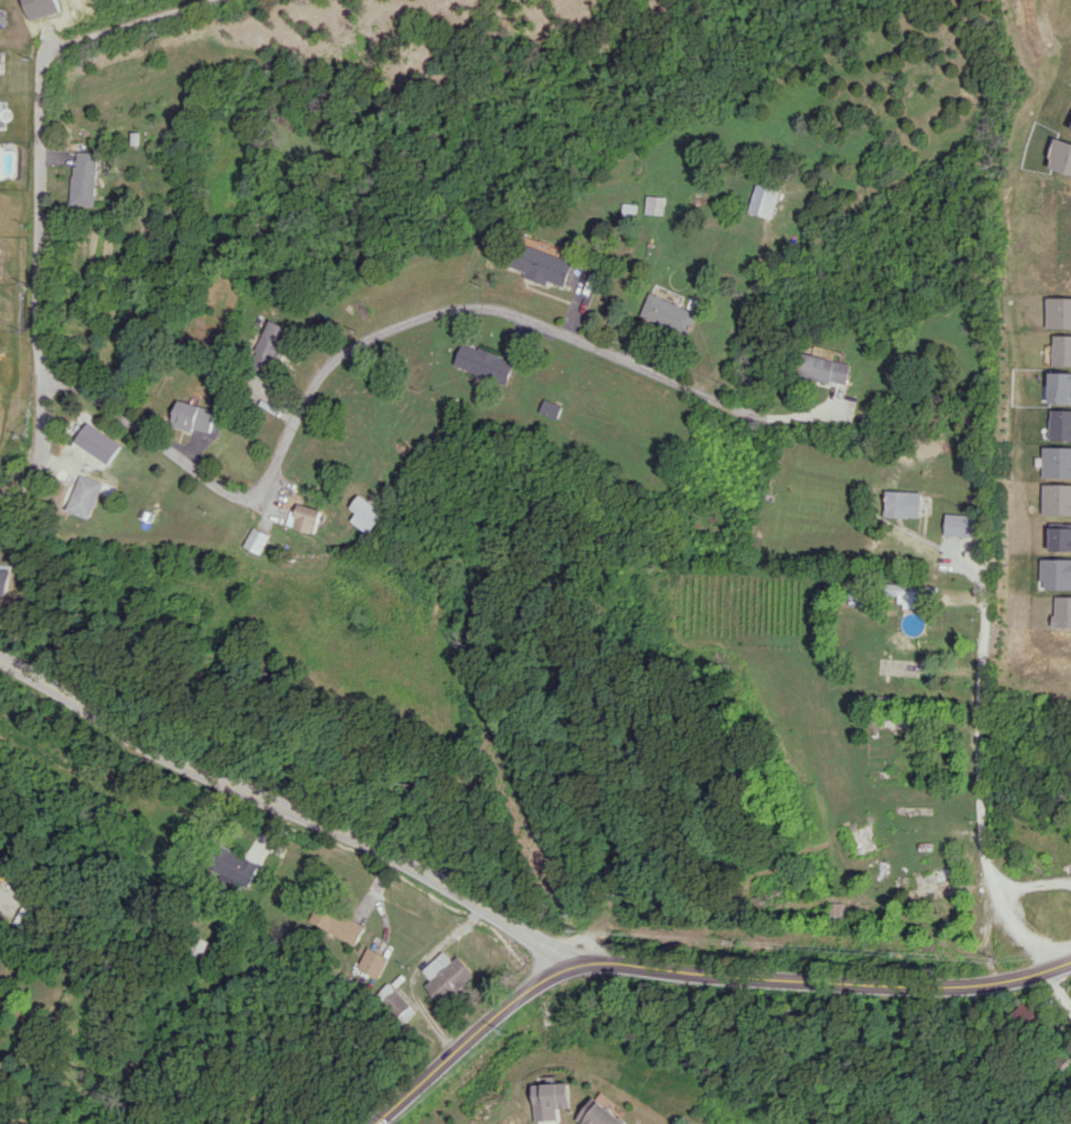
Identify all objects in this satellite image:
road: (124, 25)
building: (1, 56)
building: (1061, 156)
building: (86, 178)
building: (764, 200)
building: (653, 204)
building: (542, 265)
road: (41, 288)
building: (1057, 312)
building: (669, 313)
road: (393, 327)
building: (271, 344)
building: (1060, 350)
building: (485, 362)
building: (824, 369)
building: (1058, 386)
building: (550, 408)
building: (193, 416)
building: (1059, 425)
building: (99, 442)
building: (1056, 461)
building: (87, 496)
building: (1055, 498)
building: (902, 504)
building: (365, 514)
building: (307, 518)
building: (959, 525)
building: (1059, 536)
building: (257, 539)
building: (1055, 573)
building: (7, 578)
building: (909, 589)
building: (1061, 611)
road: (981, 796)
road: (289, 808)
building: (241, 867)
road: (1033, 883)
building: (833, 910)
building: (340, 922)
building: (373, 962)
road: (696, 971)
building: (448, 976)
building: (554, 1099)
building: (604, 1114)

